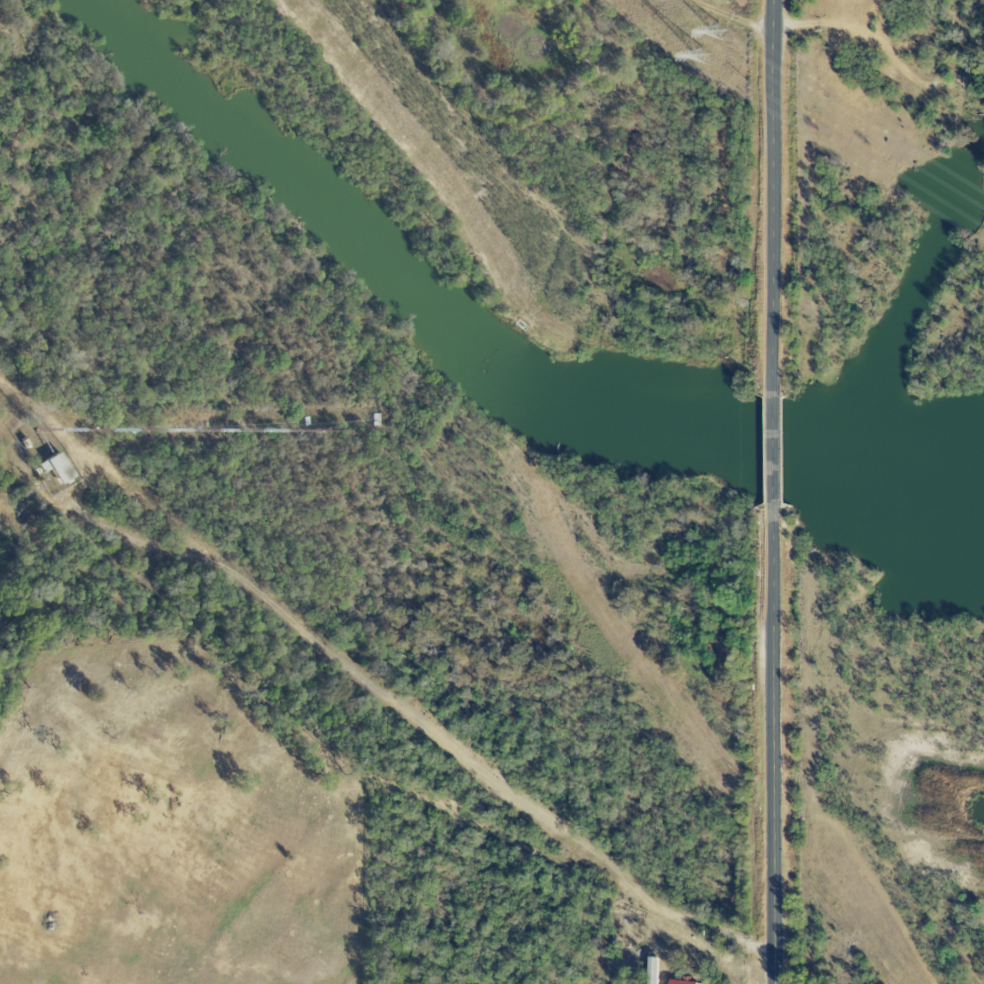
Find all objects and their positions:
power tower: (728, 30)
road: (882, 50)
power tower: (708, 59)
road: (771, 198)
road: (771, 452)
building: (60, 466)
road: (434, 731)
road: (775, 745)
building: (689, 982)

